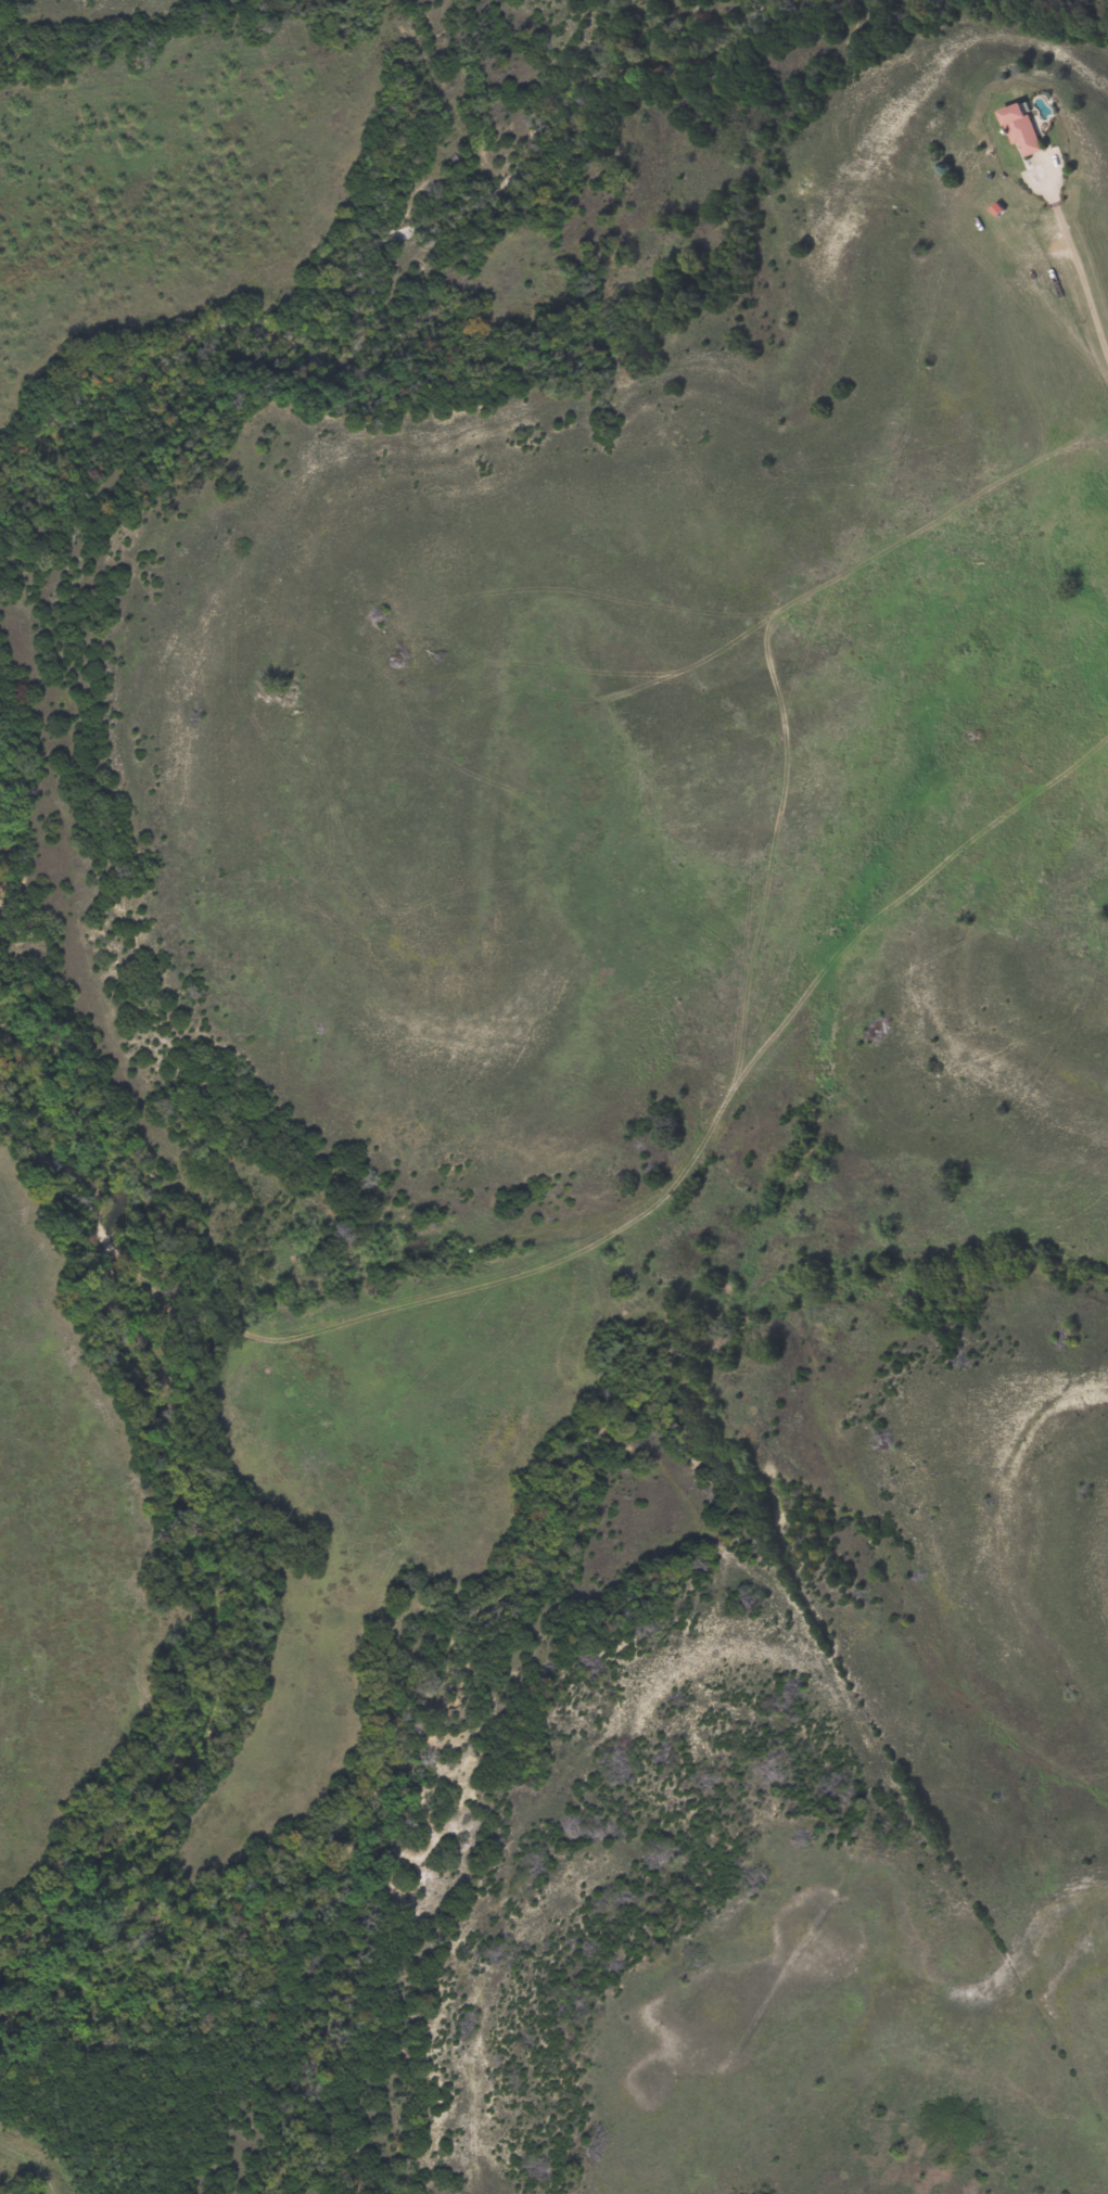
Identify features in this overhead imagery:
building: (1015, 130)
road: (1071, 265)

